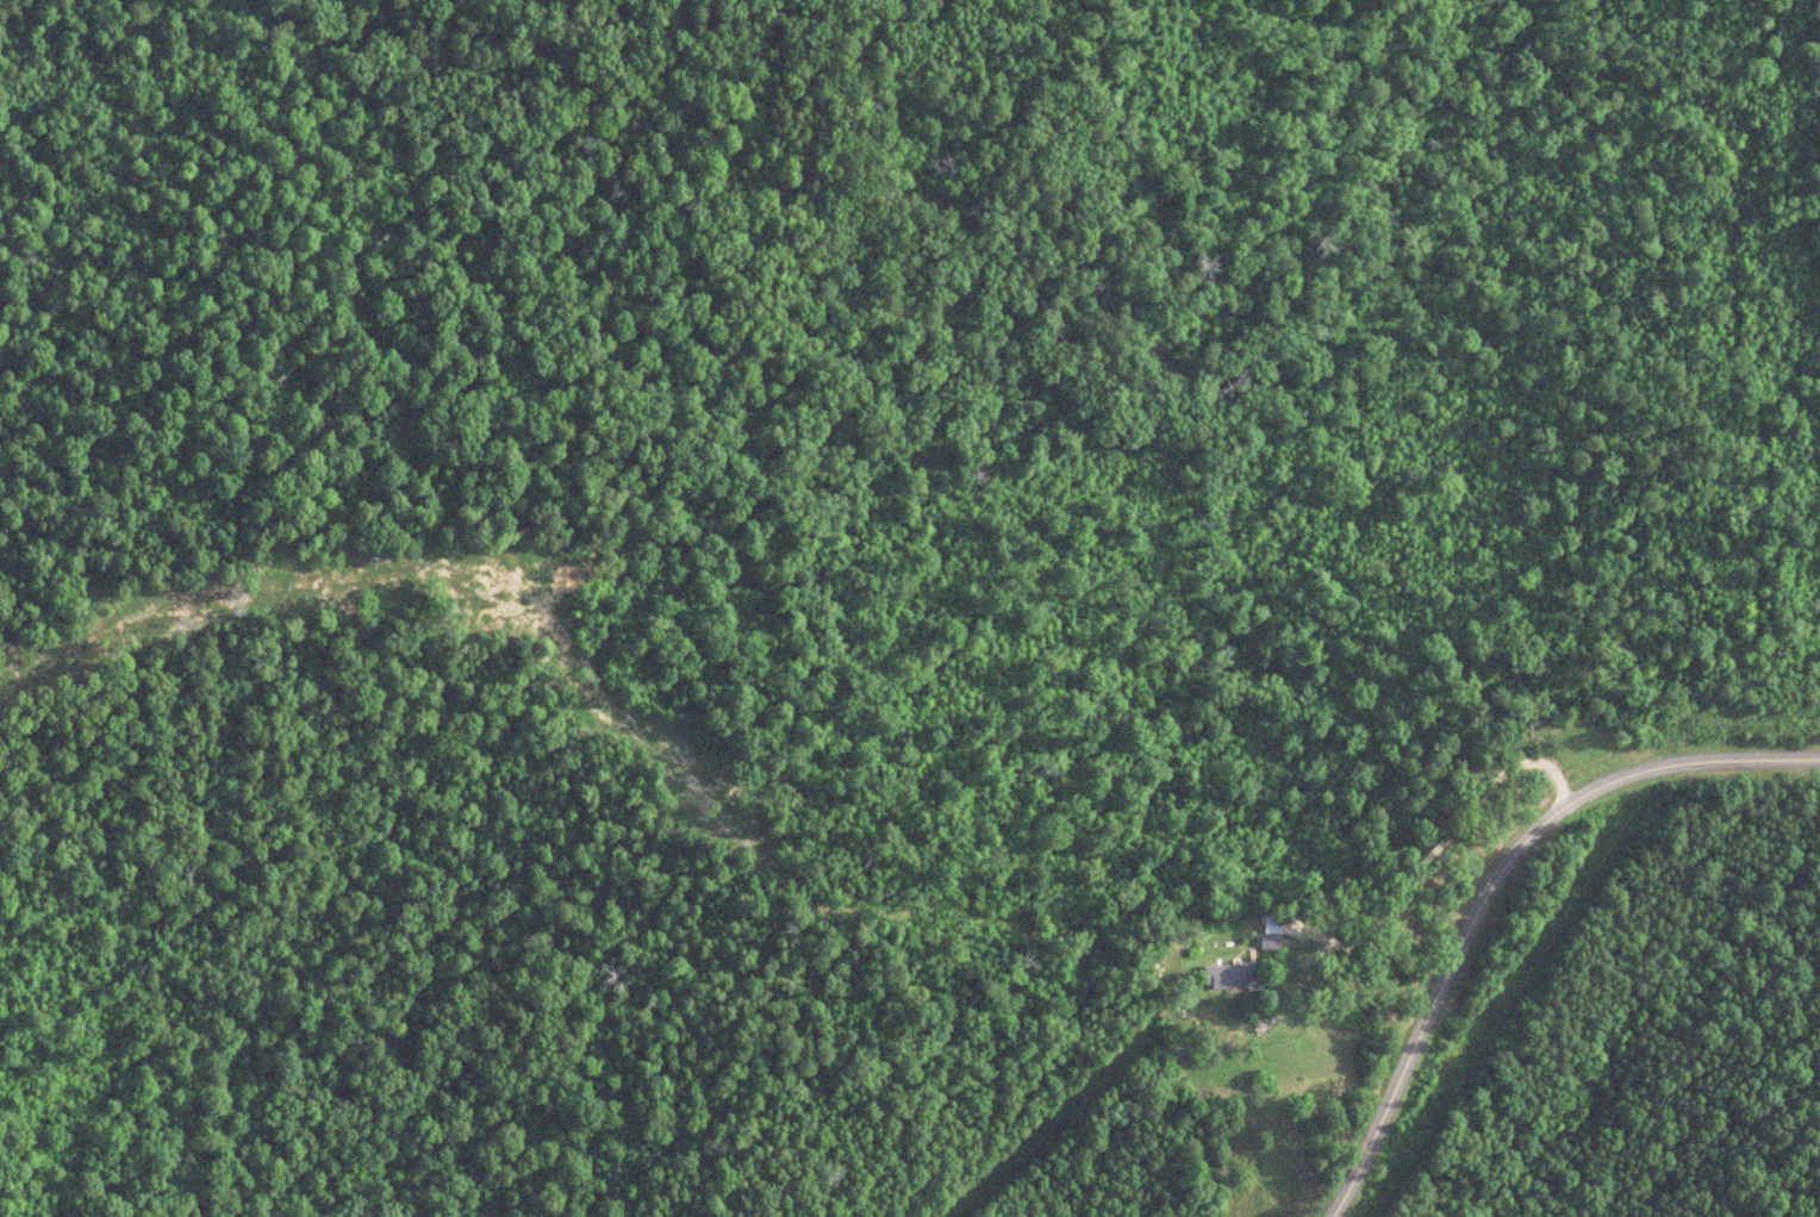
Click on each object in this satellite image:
road: (1495, 881)

